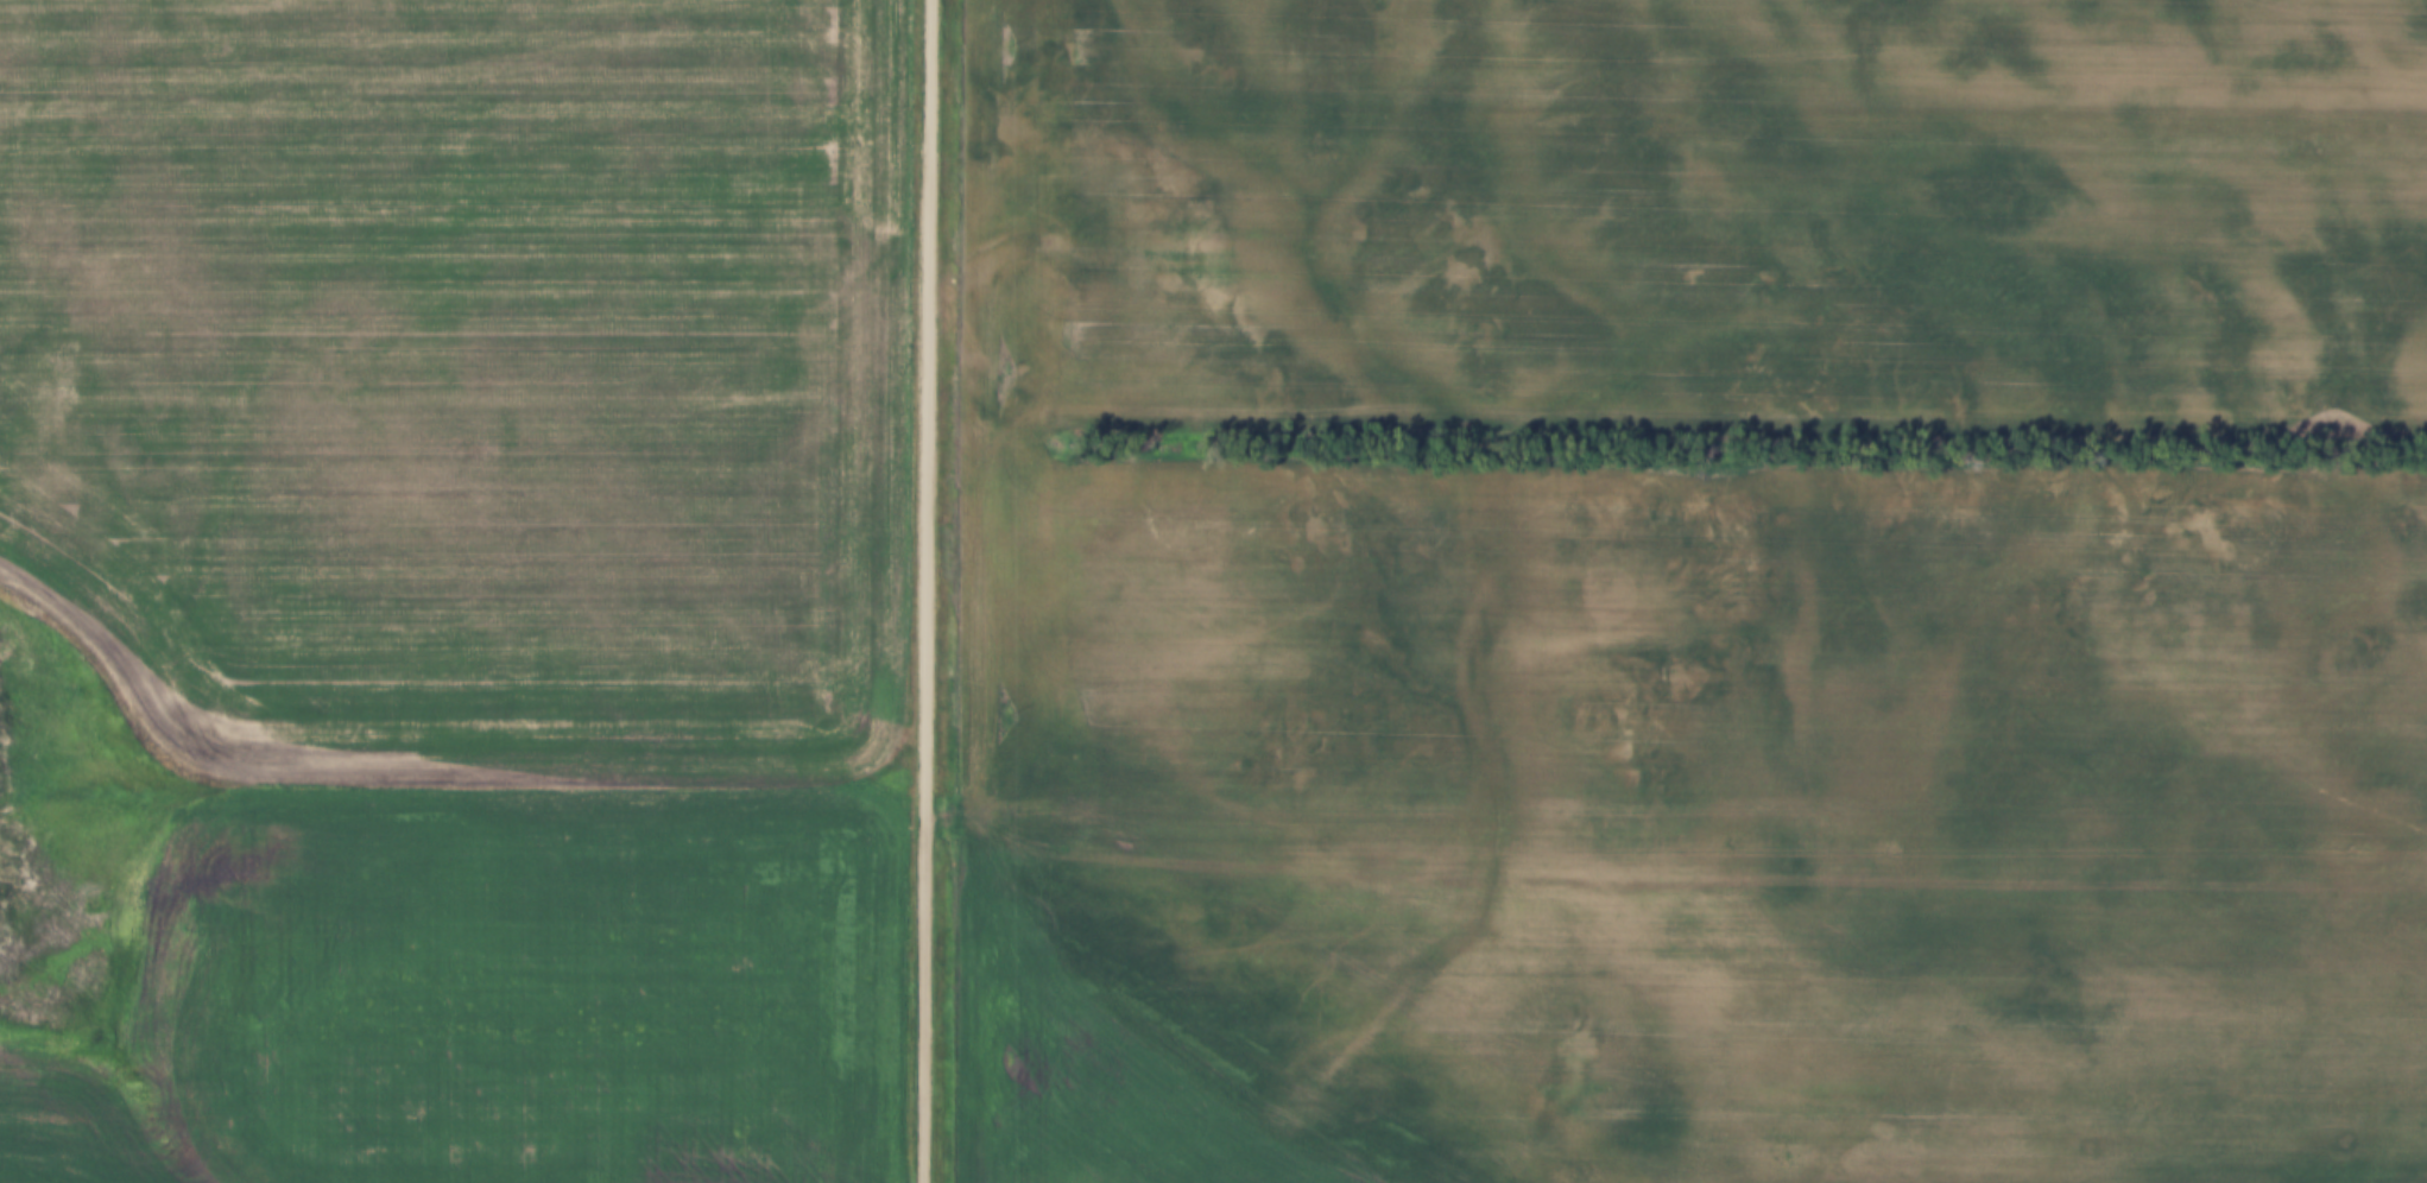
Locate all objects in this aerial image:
road: (924, 590)

